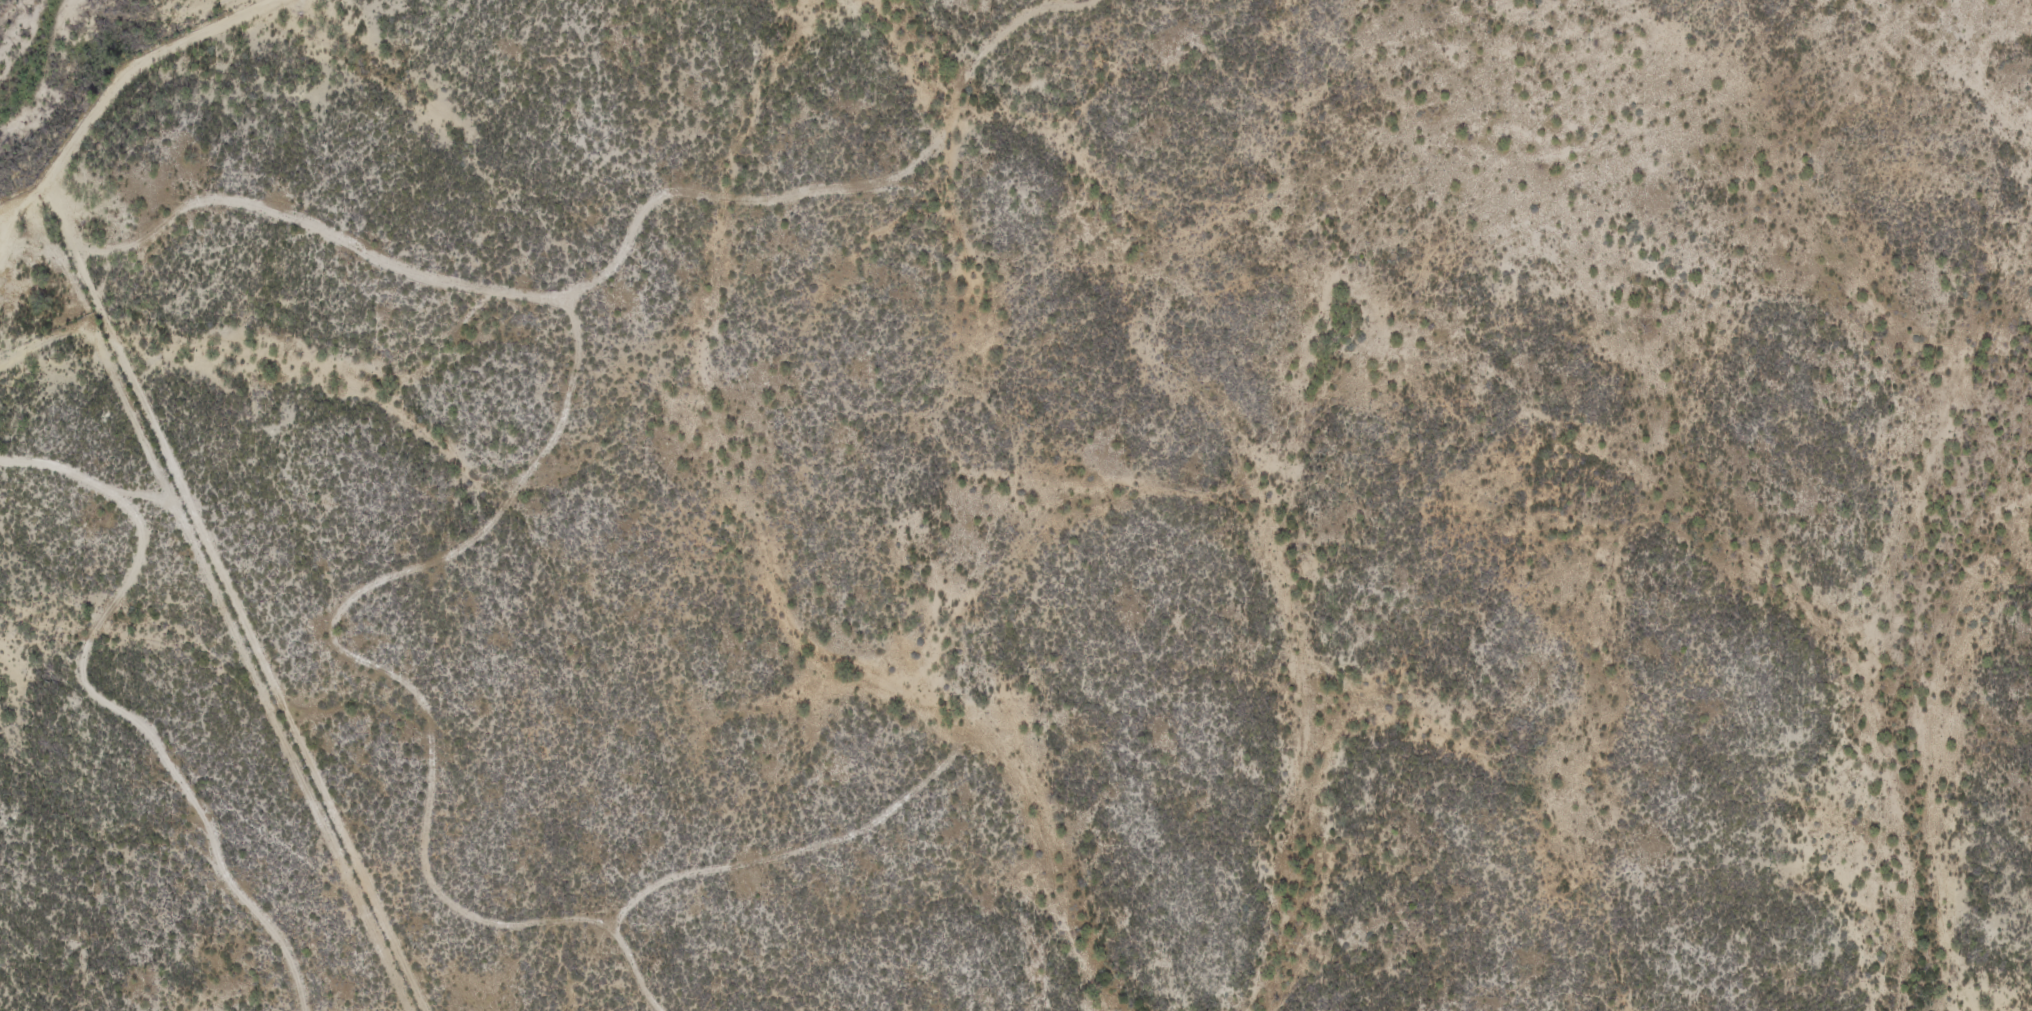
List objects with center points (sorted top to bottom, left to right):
road: (110, 85)
road: (228, 599)
road: (215, 798)

